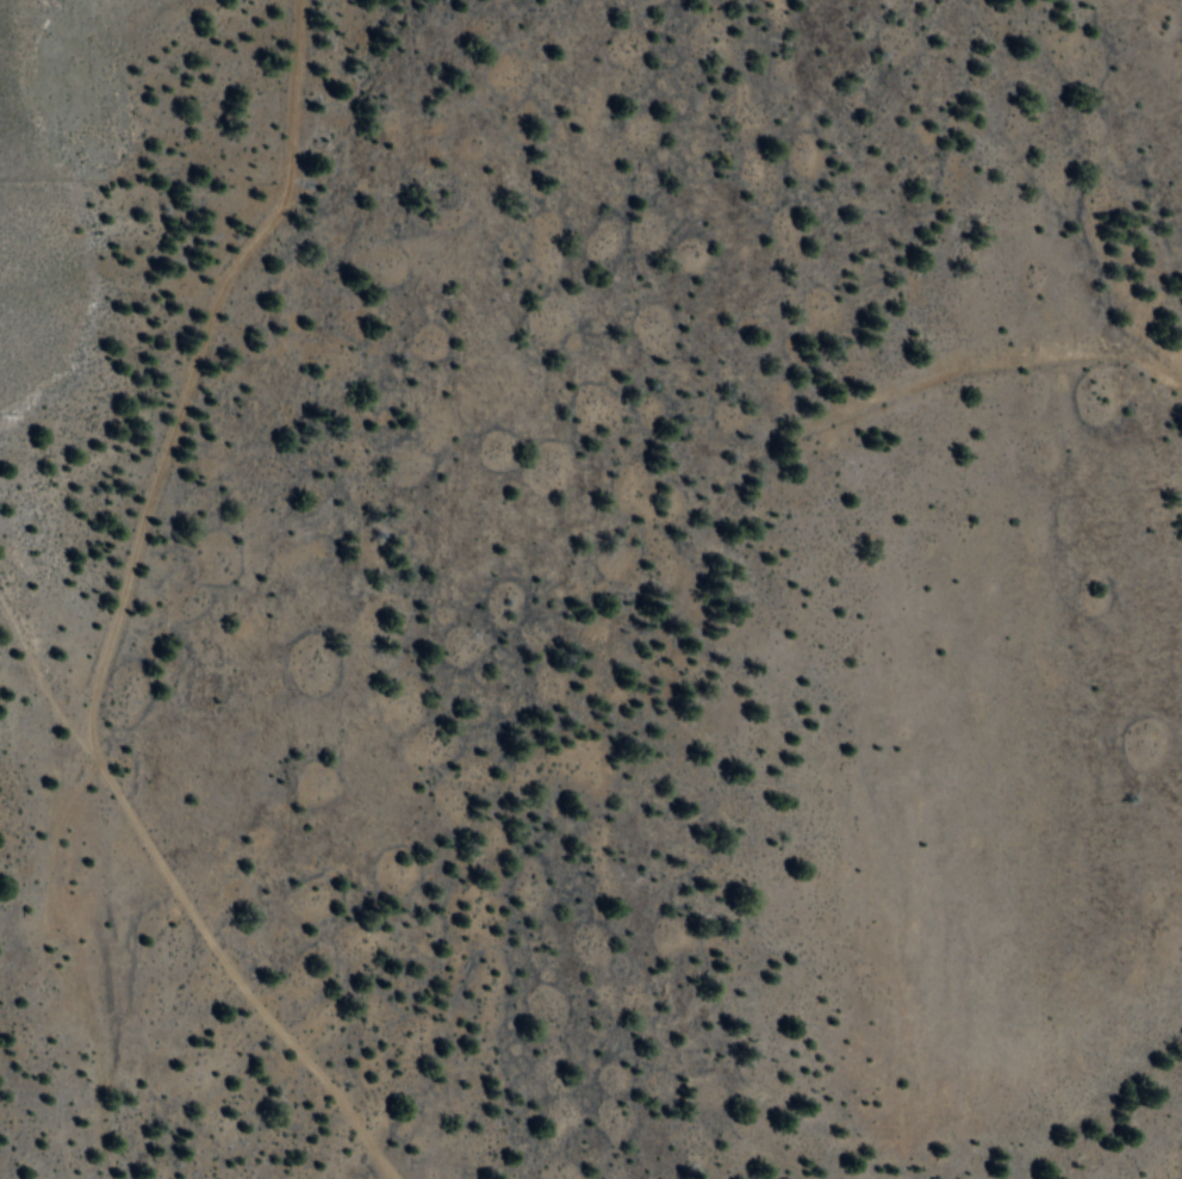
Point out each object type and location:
road: (195, 370)
road: (185, 893)

